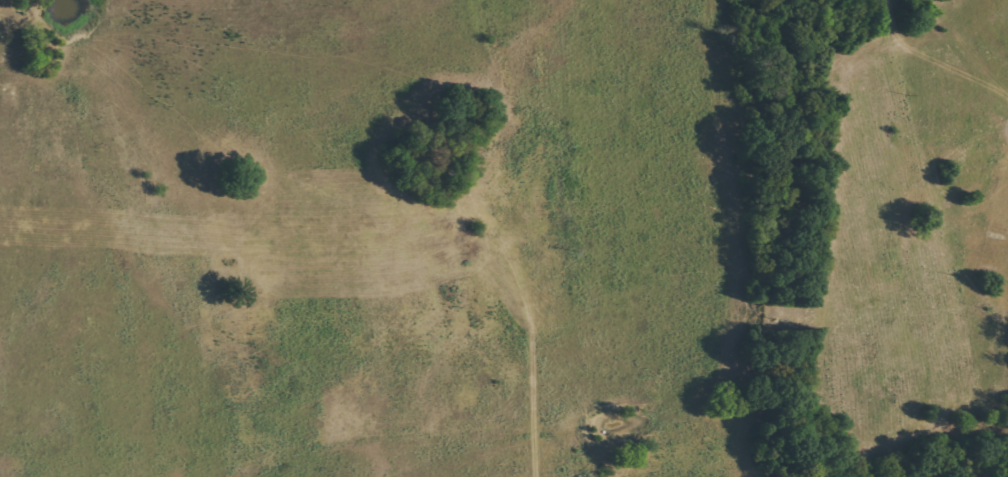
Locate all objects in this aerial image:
road: (602, 438)

